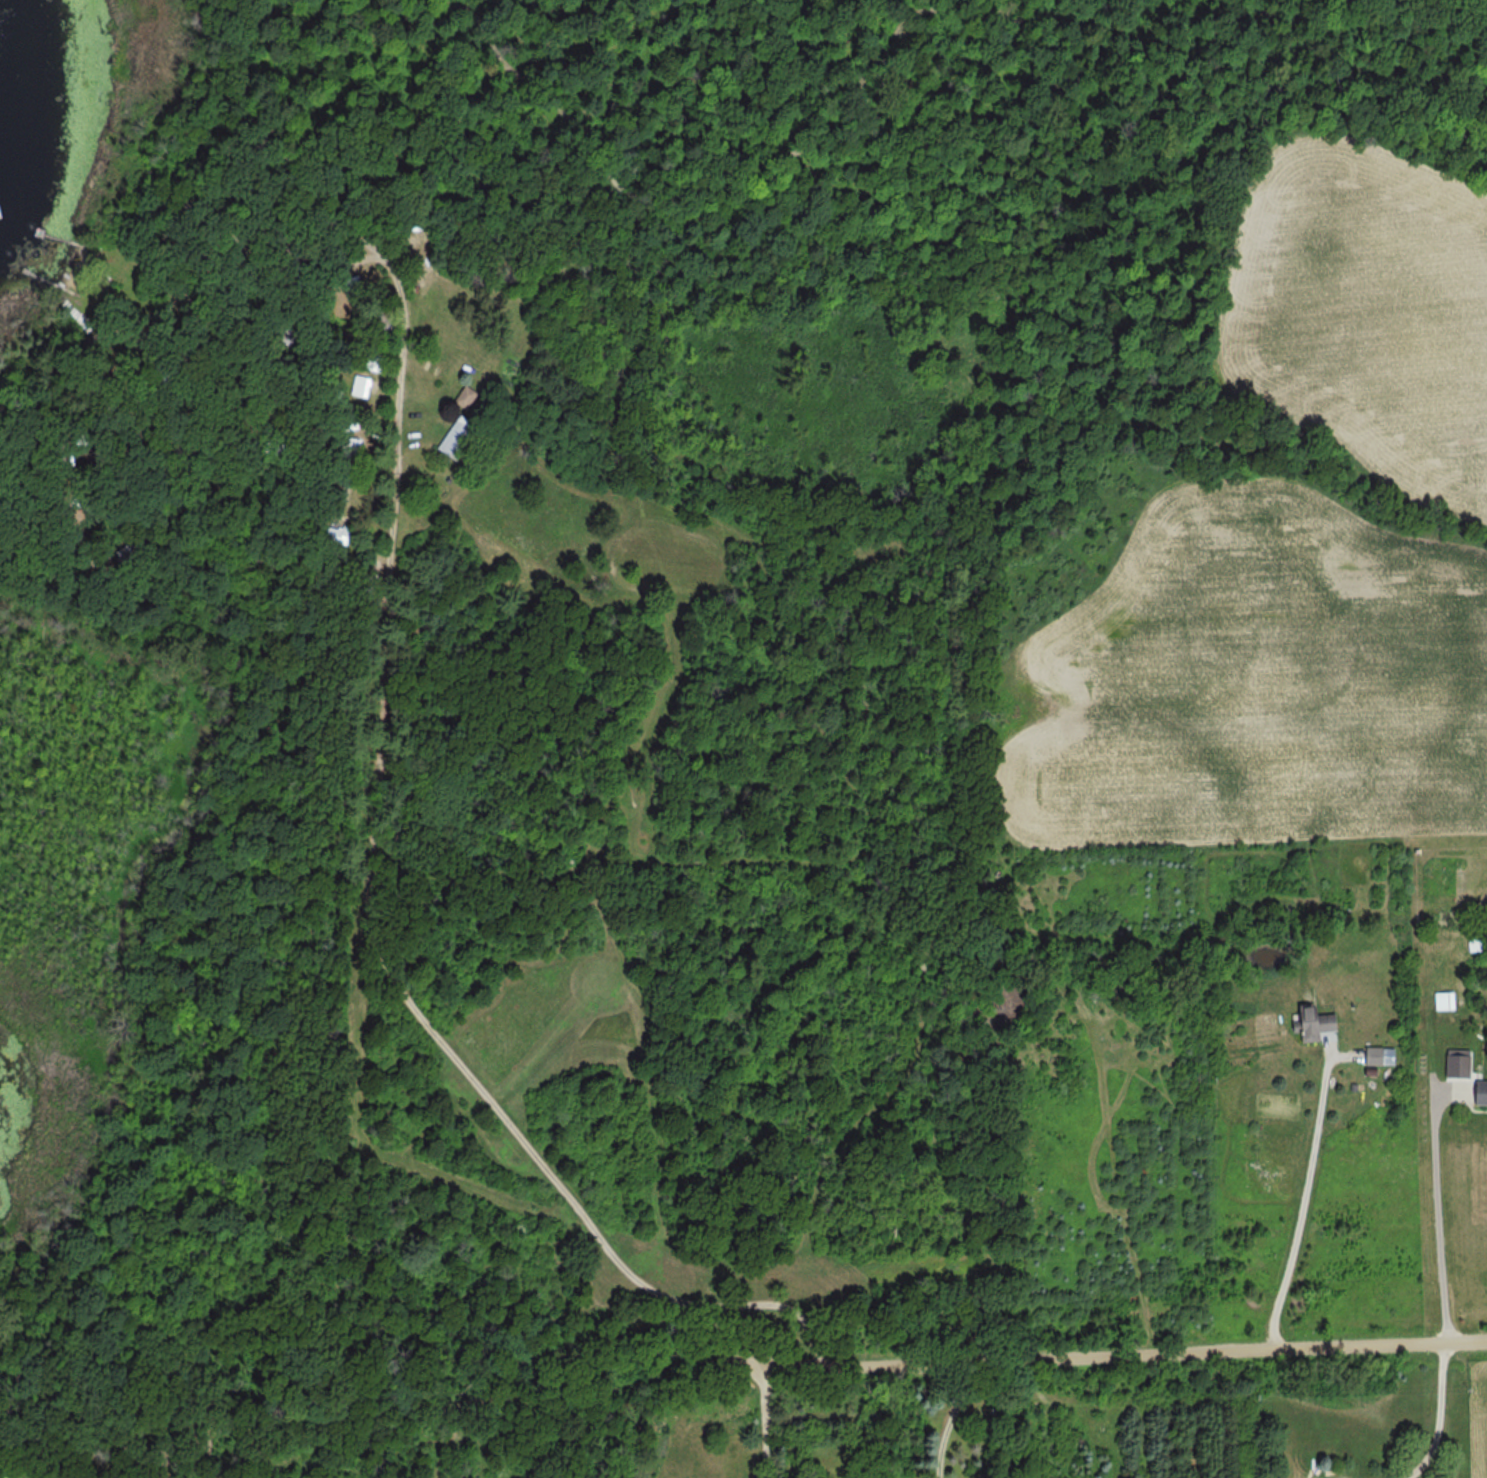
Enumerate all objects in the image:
building: (354, 288)
building: (290, 332)
building: (374, 358)
building: (278, 362)
building: (163, 373)
building: (361, 385)
building: (253, 392)
building: (465, 396)
building: (347, 420)
building: (457, 436)
building: (274, 445)
building: (351, 446)
building: (185, 448)
building: (336, 496)
building: (337, 532)
park: (29, 757)
road: (374, 799)
building: (1444, 1000)
building: (1313, 1022)
building: (1374, 1056)
building: (1481, 1091)
road: (1305, 1204)
road: (1440, 1217)
road: (1094, 1353)
road: (951, 1414)
road: (1439, 1420)
road: (764, 1422)

